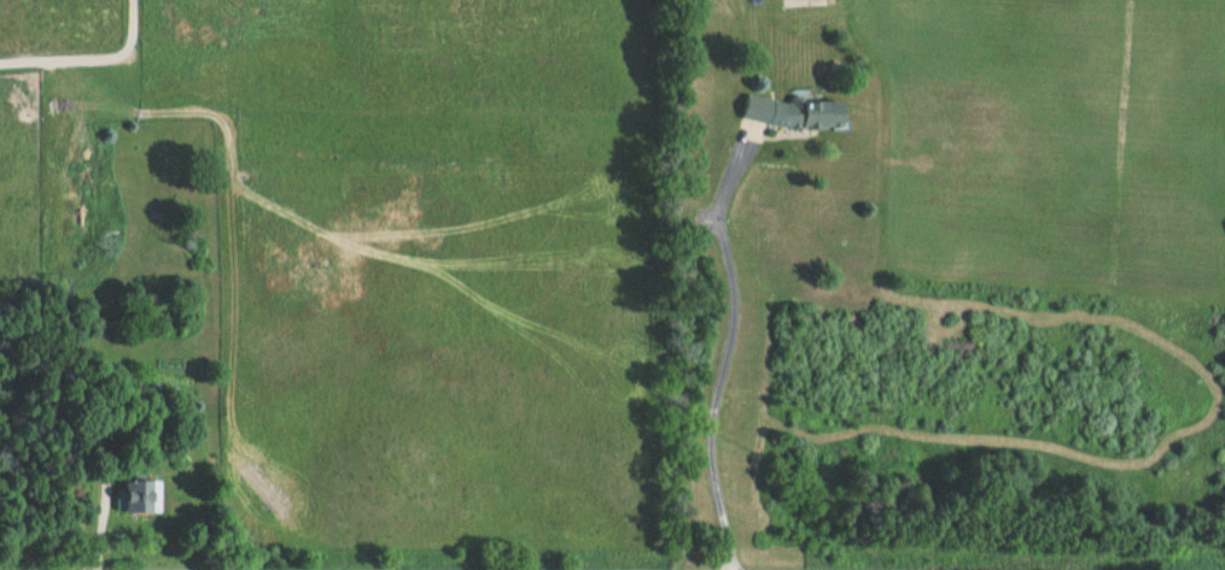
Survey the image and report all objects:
building: (803, 112)
road: (729, 345)

